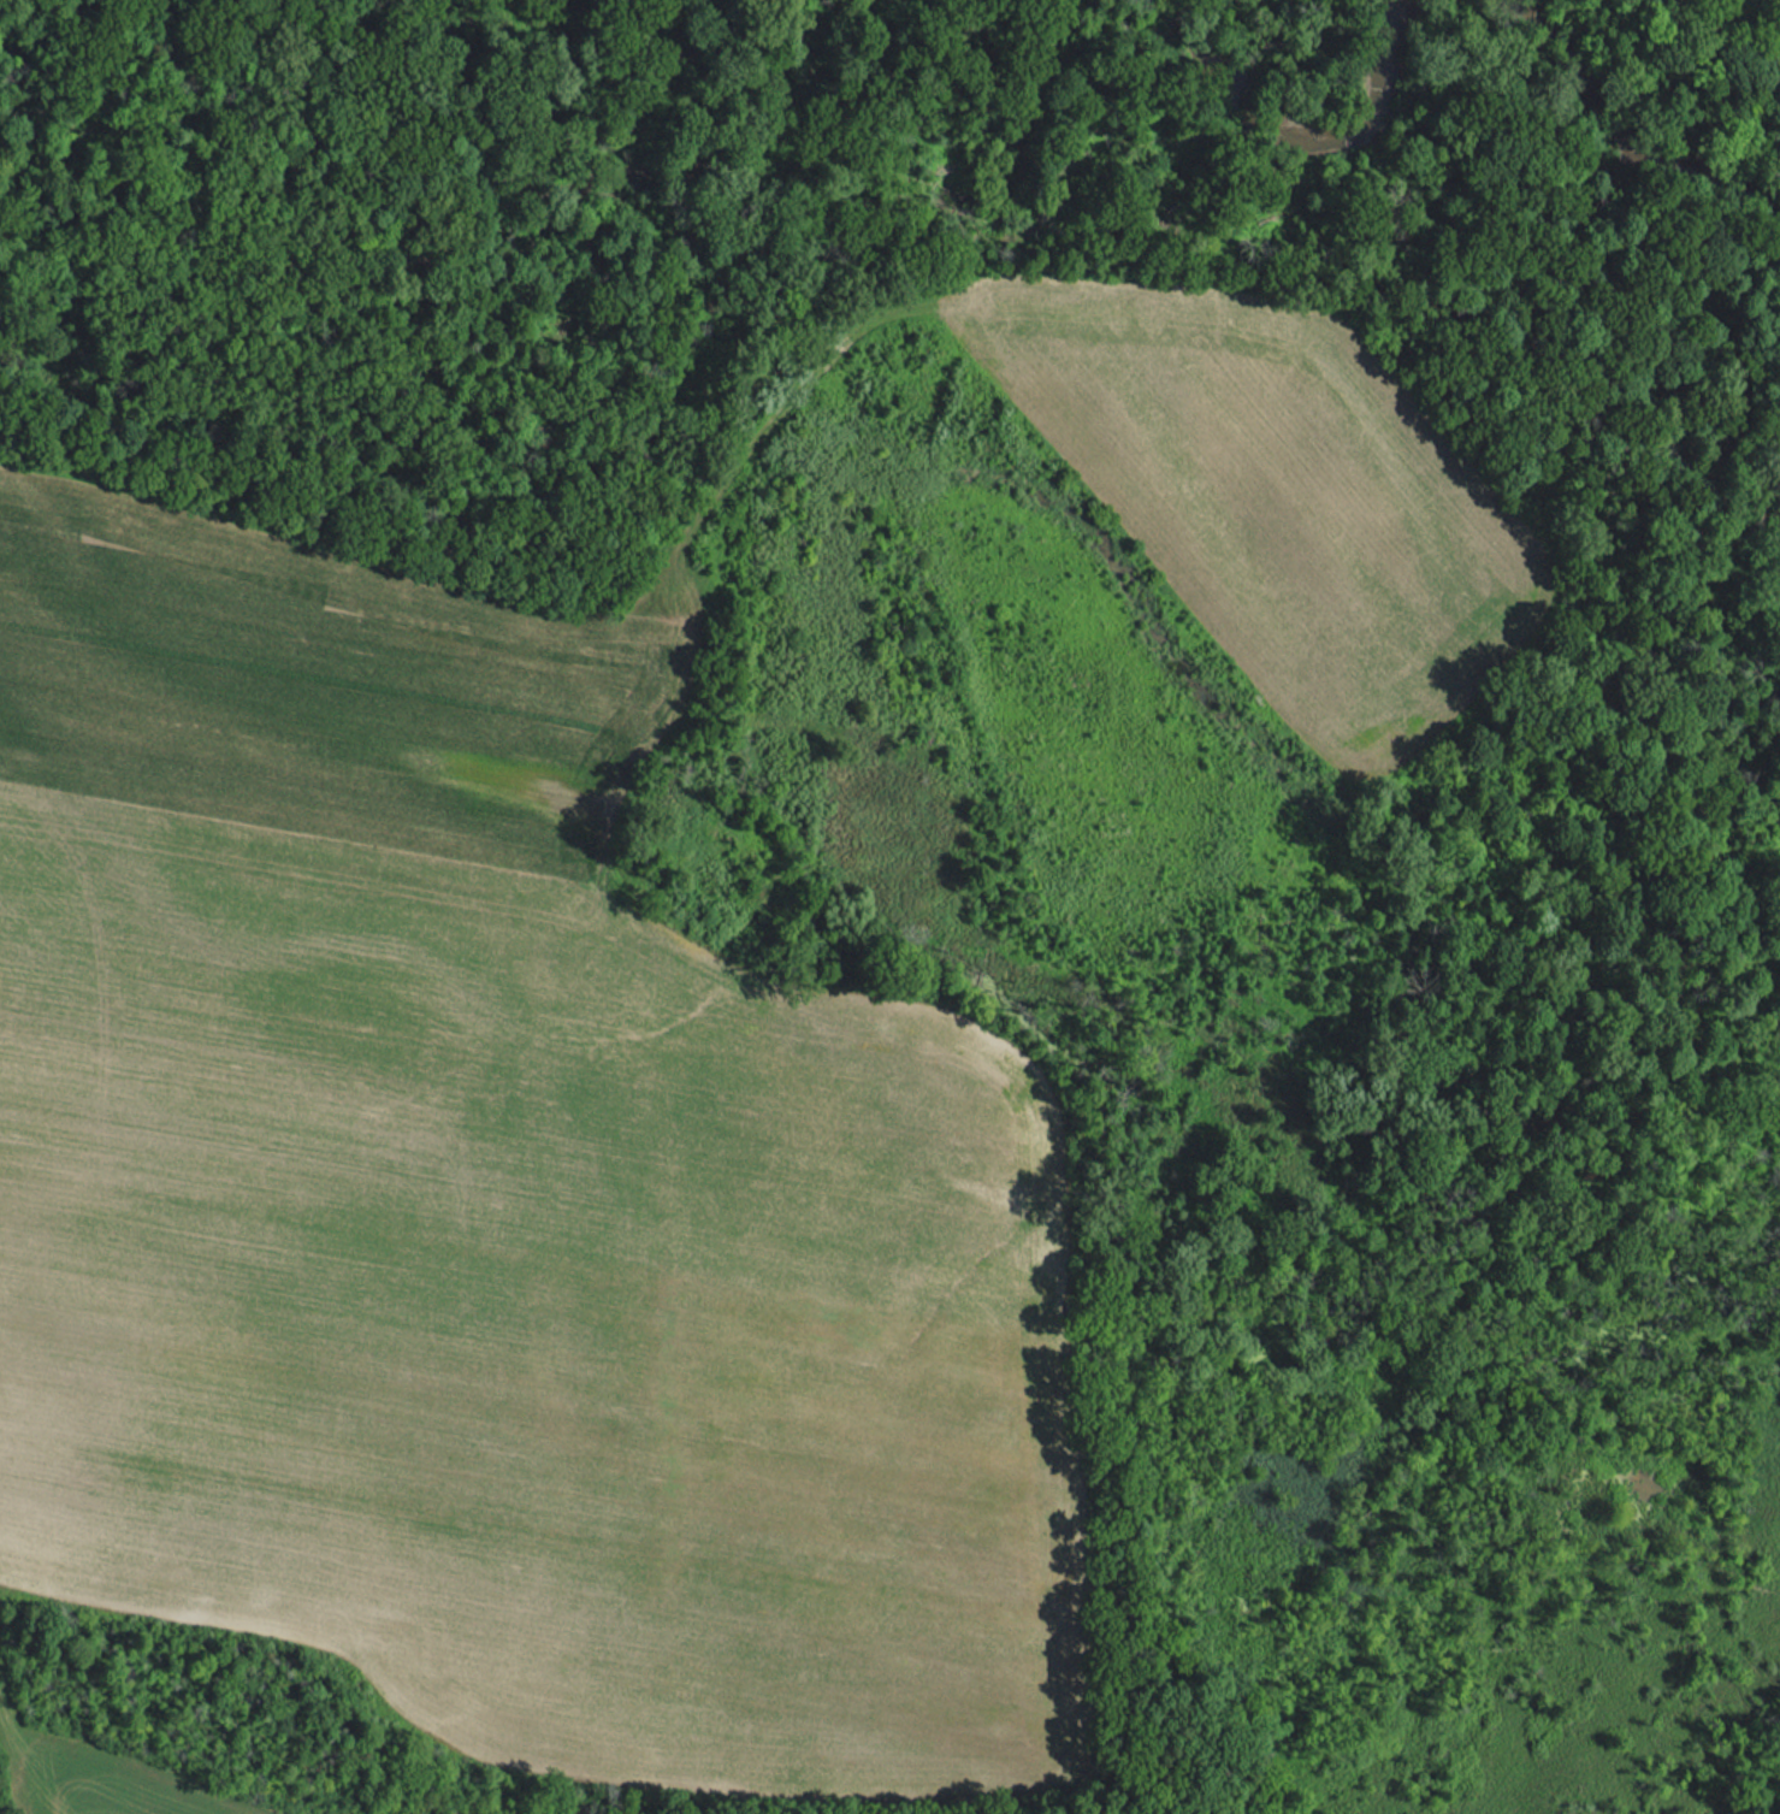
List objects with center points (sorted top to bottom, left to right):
river: (1320, 122)
river: (1626, 143)

